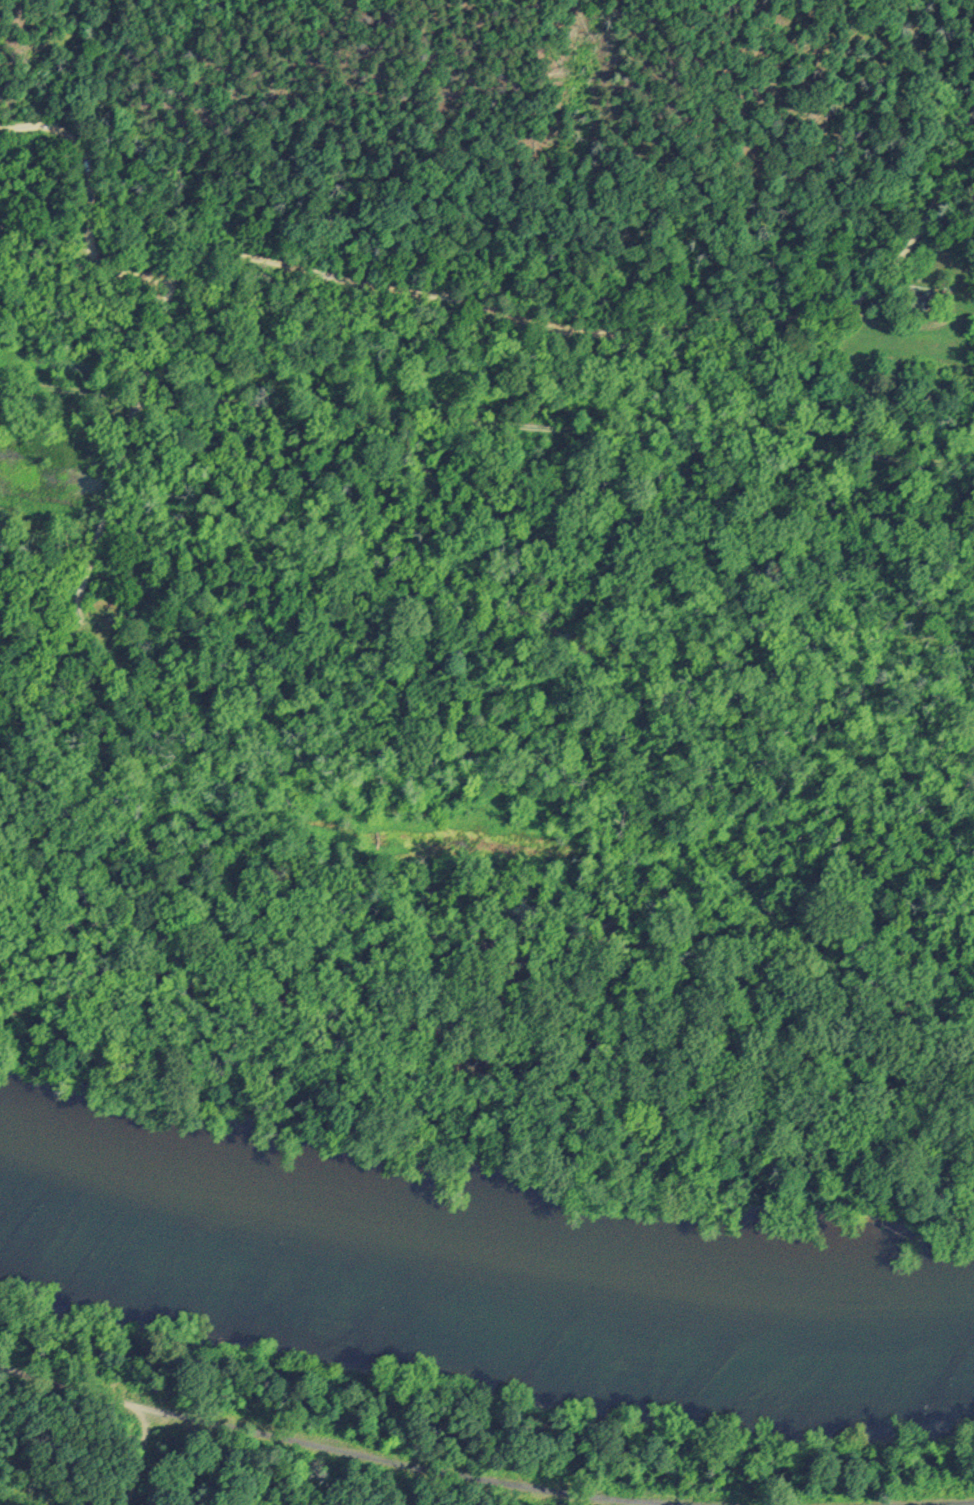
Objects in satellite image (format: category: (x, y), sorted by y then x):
road: (480, 304)
road: (907, 328)
road: (486, 425)
road: (80, 592)
road: (223, 984)
river: (484, 1280)
road: (313, 1447)
road: (905, 1502)

